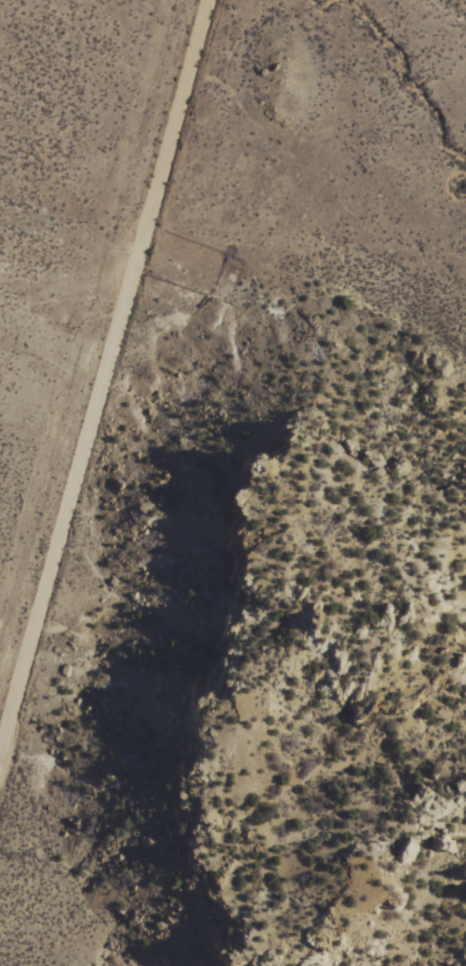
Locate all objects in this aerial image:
road: (103, 381)

